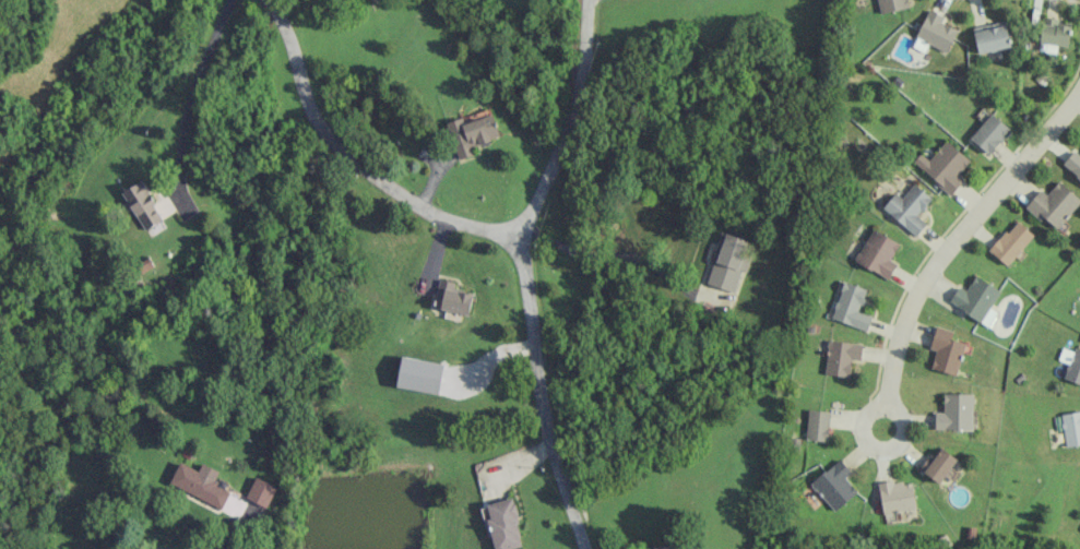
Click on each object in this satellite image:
building: (891, 4)
building: (935, 33)
building: (1053, 34)
building: (992, 38)
road: (191, 95)
road: (566, 127)
building: (989, 133)
building: (471, 134)
building: (1073, 164)
building: (943, 166)
building: (1054, 204)
building: (143, 205)
building: (909, 207)
road: (954, 231)
road: (484, 232)
building: (1011, 242)
building: (877, 253)
road: (618, 255)
building: (727, 262)
building: (452, 298)
building: (976, 299)
building: (851, 307)
building: (945, 350)
building: (841, 357)
building: (1070, 363)
building: (418, 374)
building: (956, 413)
building: (817, 425)
building: (1071, 428)
road: (890, 446)
building: (938, 464)
building: (834, 485)
building: (200, 486)
building: (261, 492)
building: (897, 497)
building: (900, 516)
building: (503, 524)
road: (235, 532)
building: (666, 547)

